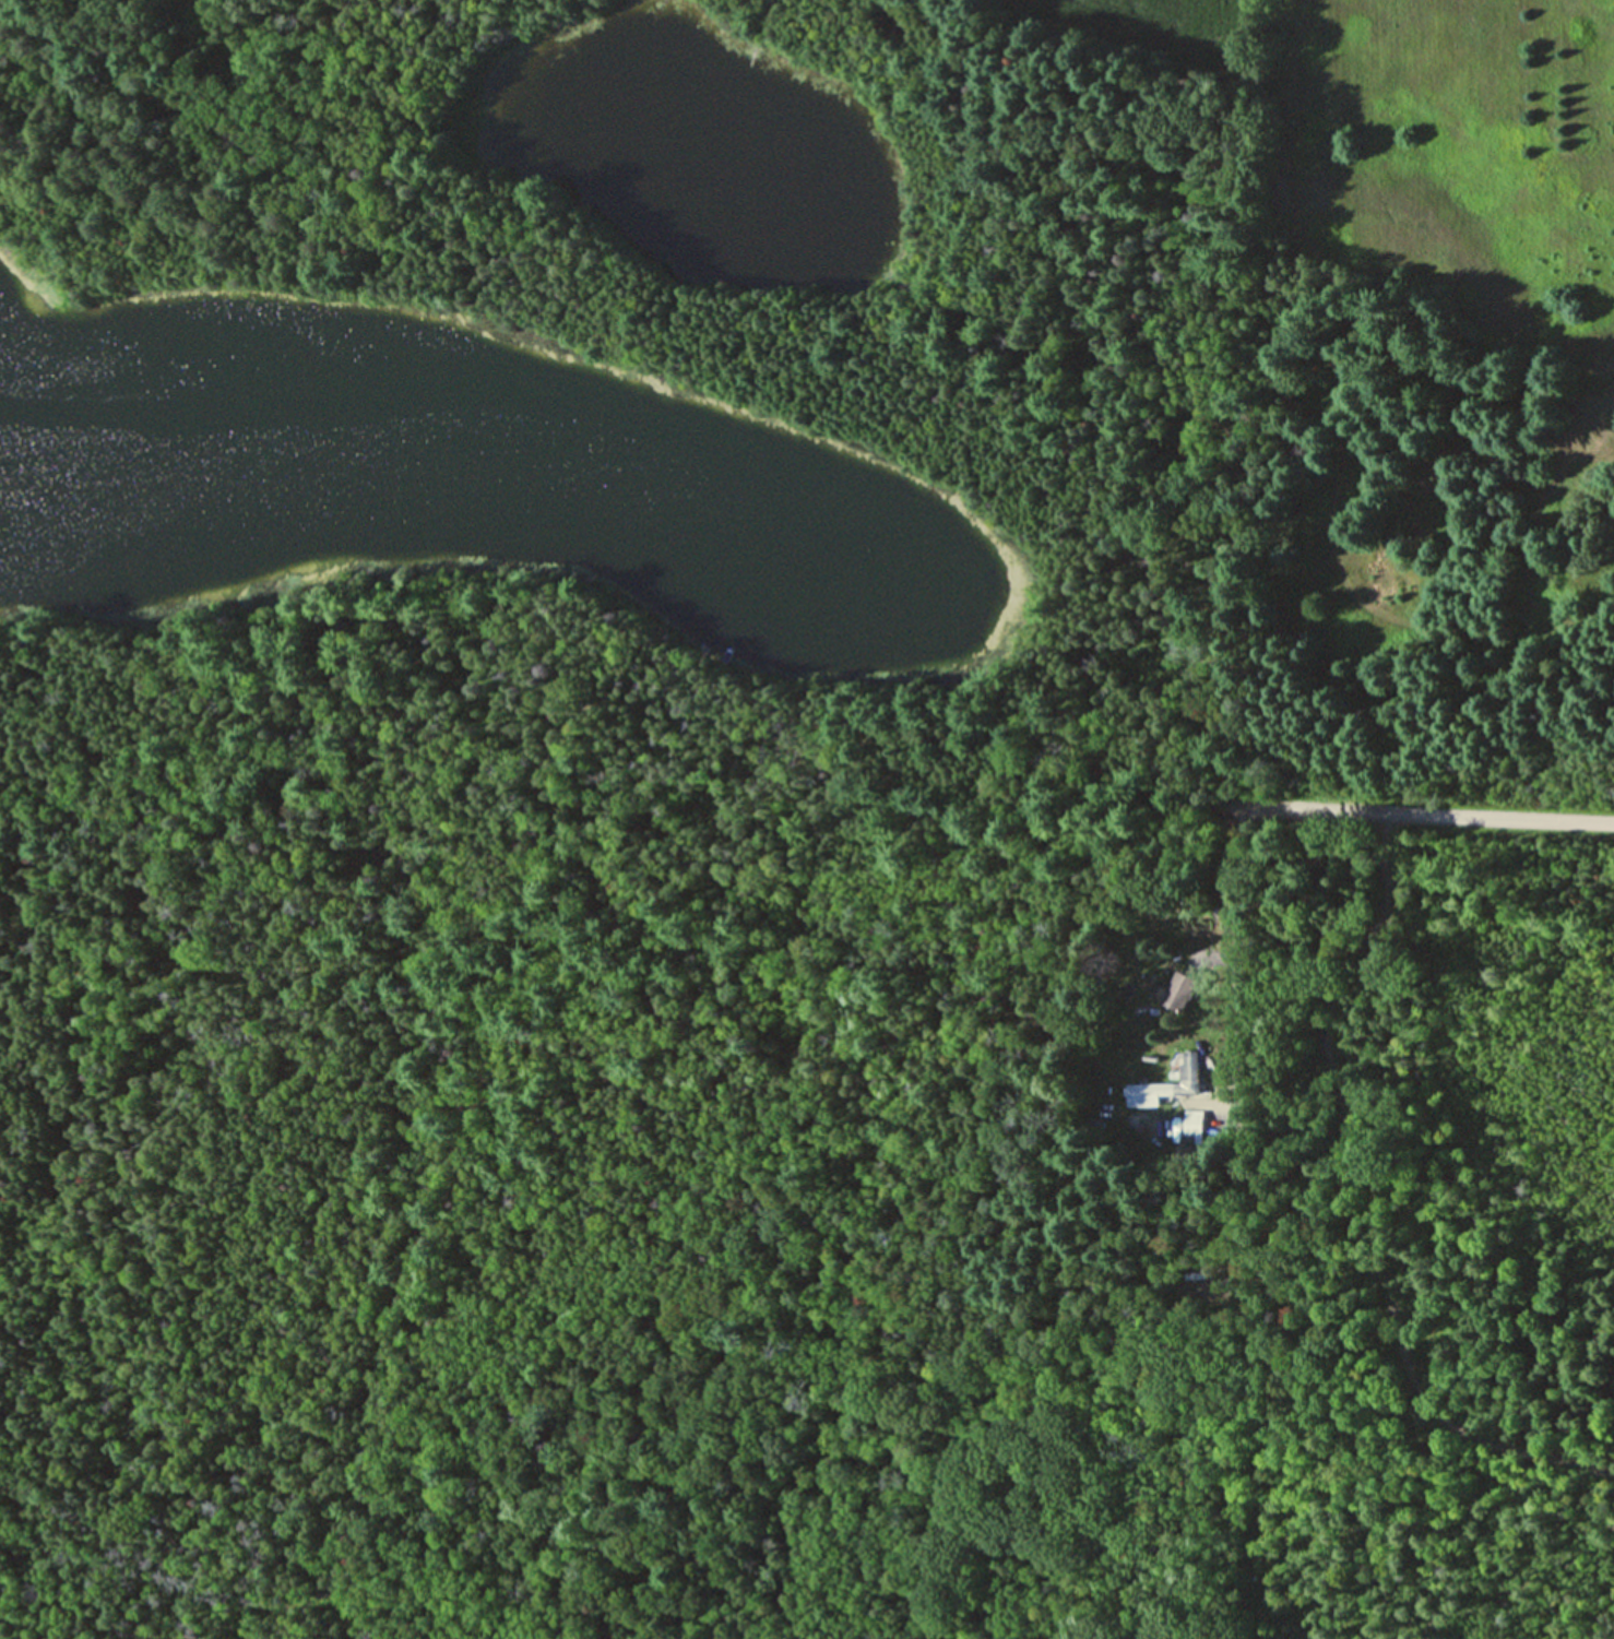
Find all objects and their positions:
road: (1425, 813)
road: (1224, 879)
building: (1180, 990)
building: (1188, 1066)
building: (1199, 1124)

